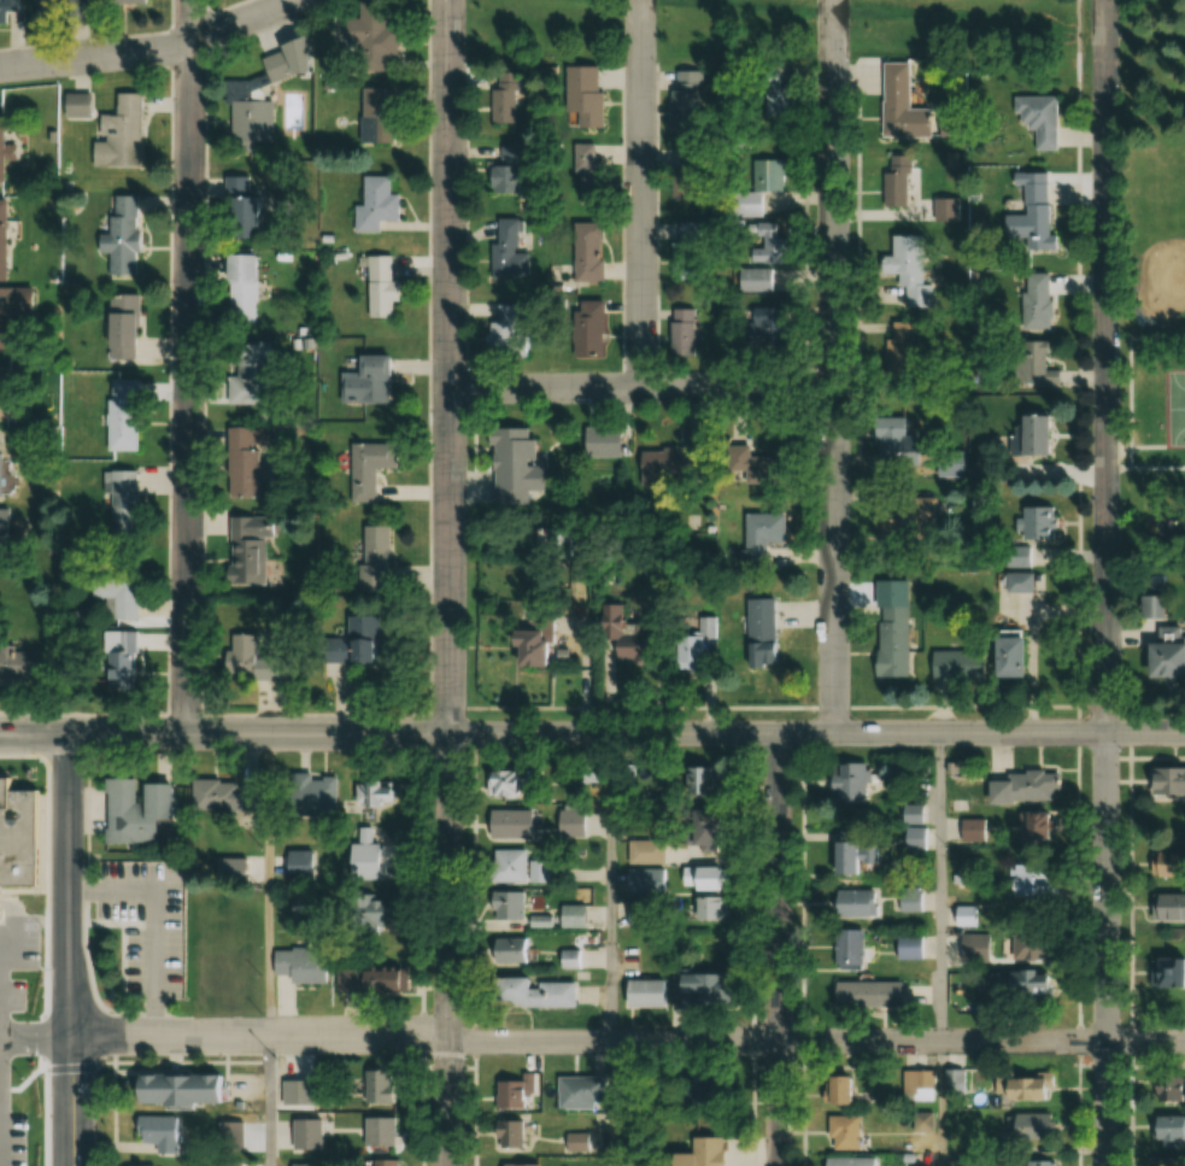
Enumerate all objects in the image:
building: (134, 1)
building: (10, 6)
building: (362, 40)
road: (151, 48)
building: (323, 63)
building: (276, 70)
building: (588, 98)
building: (690, 101)
building: (508, 102)
building: (905, 107)
building: (1040, 121)
building: (368, 124)
building: (242, 125)
building: (125, 128)
building: (2, 142)
building: (511, 171)
building: (591, 174)
building: (770, 175)
building: (690, 177)
road: (635, 194)
building: (749, 206)
building: (368, 207)
building: (1026, 217)
building: (253, 218)
building: (234, 221)
building: (5, 230)
park: (1160, 230)
building: (125, 233)
building: (765, 245)
building: (511, 251)
building: (591, 252)
building: (687, 253)
building: (913, 274)
building: (756, 280)
park: (1146, 286)
building: (383, 287)
building: (250, 288)
building: (370, 292)
building: (233, 294)
building: (1026, 301)
building: (14, 305)
building: (127, 323)
building: (770, 327)
building: (596, 329)
building: (508, 332)
building: (682, 333)
building: (902, 341)
building: (997, 365)
road: (829, 367)
building: (1036, 367)
road: (184, 368)
building: (239, 377)
road: (171, 379)
building: (383, 380)
building: (358, 385)
building: (7, 388)
road: (637, 388)
park: (1172, 408)
building: (129, 411)
building: (897, 436)
building: (1022, 440)
building: (606, 443)
building: (0, 462)
building: (679, 462)
building: (520, 467)
building: (761, 467)
building: (236, 468)
building: (359, 473)
building: (127, 499)
building: (897, 528)
building: (1022, 528)
building: (5, 529)
building: (765, 537)
building: (557, 543)
building: (241, 557)
building: (381, 559)
building: (362, 564)
road: (446, 582)
road: (1097, 582)
building: (119, 584)
building: (1022, 584)
building: (1156, 608)
building: (764, 621)
building: (370, 640)
building: (540, 641)
building: (698, 644)
building: (884, 644)
building: (641, 649)
road: (585, 651)
building: (1172, 654)
building: (338, 656)
building: (770, 657)
building: (999, 660)
building: (1021, 660)
building: (246, 663)
building: (112, 666)
building: (12, 668)
building: (948, 669)
road: (90, 713)
road: (592, 734)
road: (42, 757)
road: (128, 757)
building: (697, 780)
building: (1163, 780)
building: (844, 783)
building: (497, 784)
building: (1020, 787)
building: (372, 793)
building: (228, 797)
building: (327, 797)
building: (139, 813)
building: (910, 815)
building: (505, 822)
building: (568, 822)
road: (43, 824)
building: (1033, 827)
building: (693, 832)
road: (84, 833)
building: (17, 837)
building: (641, 850)
building: (844, 855)
building: (366, 863)
building: (1161, 863)
building: (305, 865)
building: (503, 865)
building: (534, 868)
building: (699, 878)
building: (1028, 878)
building: (641, 881)
road: (940, 886)
road: (266, 887)
road: (609, 887)
road: (22, 892)
building: (4, 901)
road: (43, 901)
building: (908, 901)
building: (501, 904)
building: (1167, 906)
building: (703, 907)
road: (63, 909)
building: (364, 910)
building: (568, 915)
road: (154, 920)
parking lot: (146, 922)
parking lot: (18, 947)
building: (845, 947)
building: (907, 947)
building: (970, 948)
building: (503, 949)
road: (779, 949)
road: (66, 950)
road: (14, 951)
building: (567, 957)
building: (301, 965)
road: (86, 967)
building: (231, 967)
building: (1166, 972)
building: (370, 979)
building: (1022, 983)
building: (697, 989)
building: (527, 991)
building: (640, 992)
building: (863, 994)
building: (917, 996)
road: (134, 1014)
road: (113, 1037)
road: (592, 1041)
road: (57, 1060)
road: (189, 1062)
building: (376, 1084)
building: (917, 1085)
building: (575, 1088)
building: (1017, 1088)
parking lot: (250, 1089)
building: (831, 1089)
building: (1166, 1089)
building: (184, 1090)
building: (510, 1090)
building: (703, 1091)
road: (266, 1103)
road: (609, 1103)
road: (941, 1103)
road: (113, 1113)
building: (1023, 1125)
building: (376, 1130)
building: (1163, 1130)
building: (508, 1131)
building: (168, 1132)
building: (233, 1132)
building: (839, 1132)
building: (306, 1133)
building: (14, 1142)
building: (704, 1150)
building: (379, 1161)
building: (847, 1161)
building: (1036, 1162)
building: (515, 1165)

